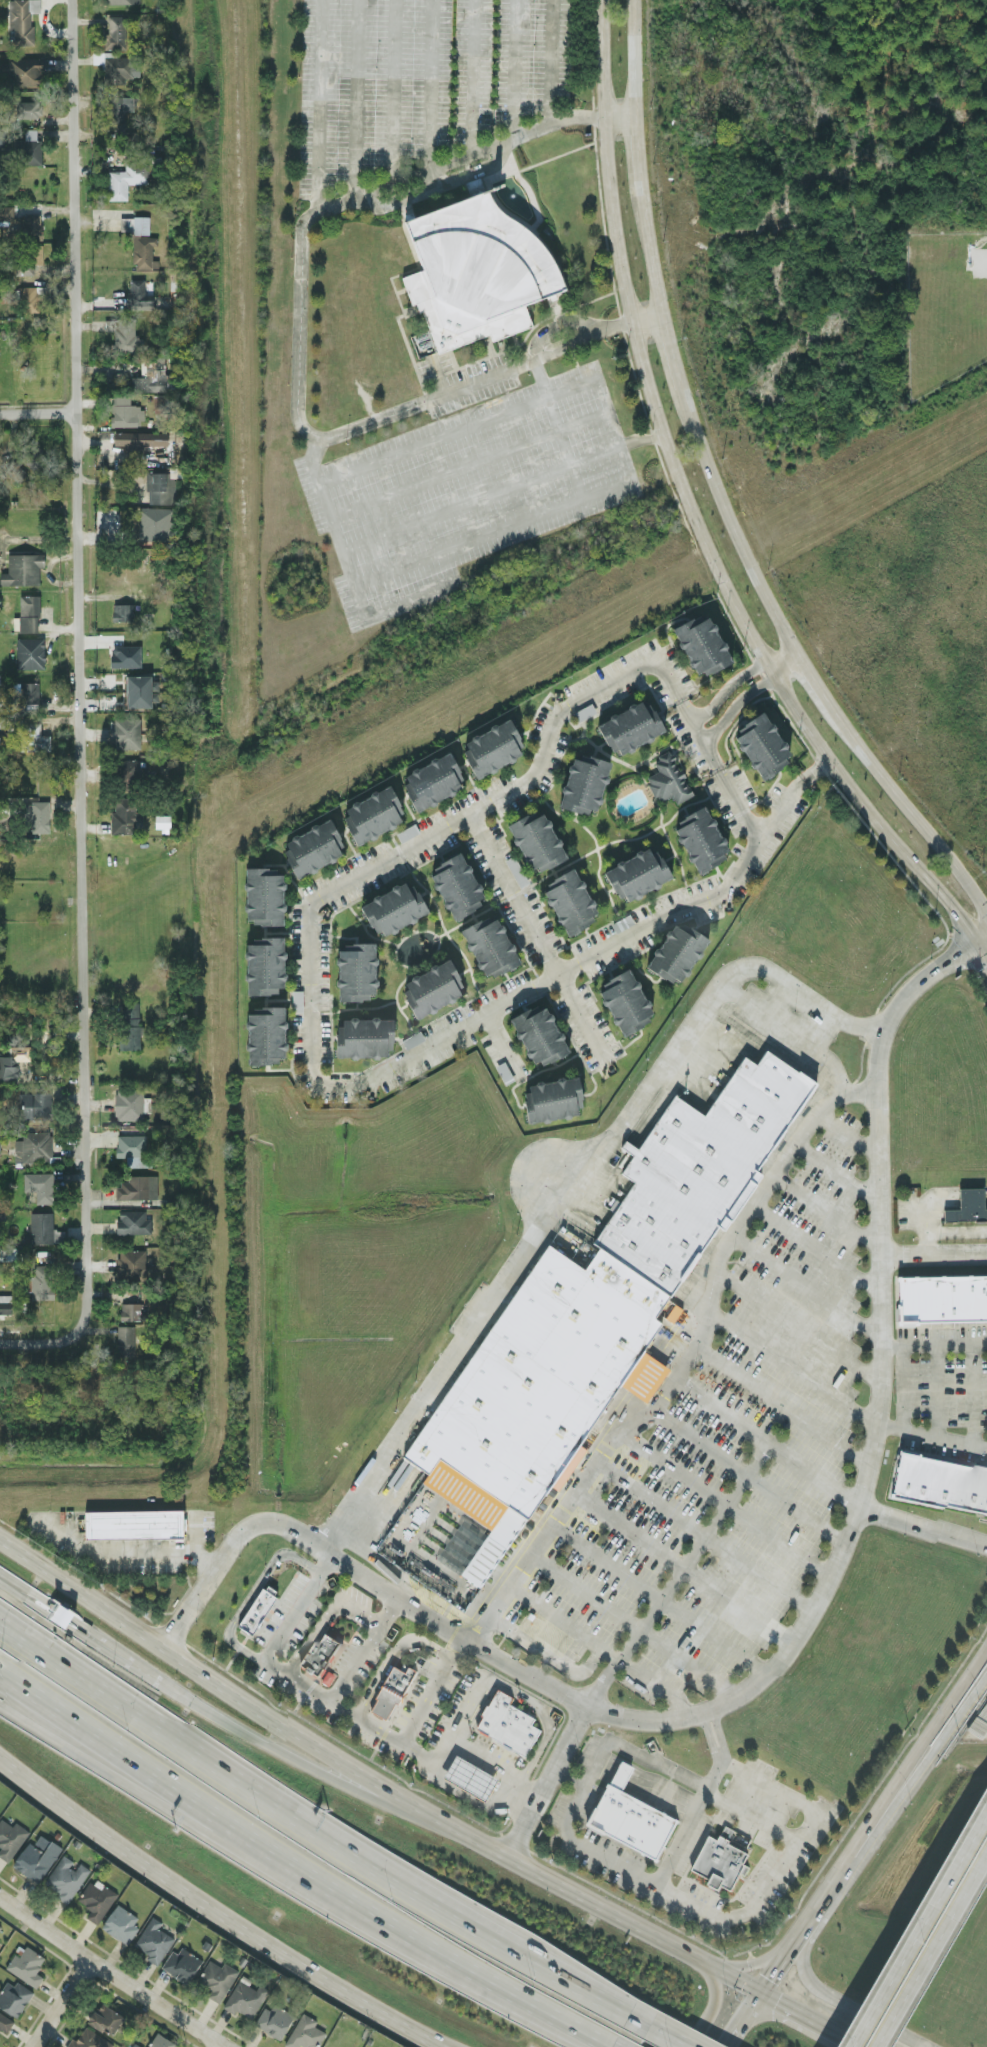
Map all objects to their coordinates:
building: (120, 1)
building: (21, 20)
building: (113, 31)
road: (632, 56)
road: (547, 61)
building: (115, 66)
road: (513, 67)
building: (22, 70)
road: (471, 76)
road: (430, 83)
road: (391, 91)
road: (352, 98)
road: (317, 104)
building: (28, 108)
building: (116, 113)
road: (618, 114)
building: (3, 138)
road: (635, 147)
building: (28, 148)
building: (126, 178)
road: (434, 185)
building: (6, 211)
building: (134, 223)
building: (32, 225)
road: (646, 247)
building: (143, 251)
building: (32, 257)
building: (473, 267)
building: (139, 293)
building: (28, 298)
road: (644, 316)
road: (555, 324)
building: (122, 334)
road: (296, 339)
road: (670, 348)
road: (436, 373)
building: (150, 375)
road: (604, 393)
road: (39, 410)
building: (125, 411)
road: (555, 427)
road: (459, 431)
building: (140, 439)
building: (169, 457)
road: (469, 463)
building: (159, 486)
road: (499, 489)
building: (153, 522)
road: (692, 523)
road: (729, 524)
road: (493, 531)
building: (22, 568)
road: (349, 574)
building: (122, 611)
building: (28, 612)
building: (701, 644)
building: (29, 652)
building: (125, 655)
road: (784, 664)
road: (80, 667)
road: (815, 681)
road: (724, 687)
building: (27, 690)
building: (138, 690)
road: (732, 704)
building: (3, 722)
building: (630, 726)
building: (126, 732)
road: (696, 735)
building: (33, 736)
building: (761, 744)
building: (492, 747)
building: (127, 769)
road: (814, 769)
building: (667, 778)
building: (432, 780)
building: (584, 783)
road: (735, 805)
road: (908, 811)
building: (373, 813)
building: (125, 816)
building: (40, 818)
road: (429, 834)
building: (700, 838)
building: (536, 840)
building: (313, 847)
building: (515, 870)
building: (637, 873)
building: (456, 885)
building: (264, 895)
building: (570, 901)
building: (394, 907)
traffic signals: (958, 912)
road: (979, 934)
road: (536, 940)
building: (489, 945)
building: (676, 951)
road: (591, 954)
building: (265, 965)
building: (356, 971)
building: (432, 987)
building: (625, 1001)
building: (129, 1024)
road: (788, 1032)
building: (538, 1033)
building: (266, 1034)
building: (364, 1036)
building: (412, 1038)
road: (502, 1044)
building: (13, 1061)
building: (553, 1098)
building: (130, 1103)
building: (36, 1104)
road: (843, 1130)
building: (33, 1146)
building: (132, 1148)
building: (693, 1166)
road: (832, 1171)
building: (39, 1185)
building: (137, 1186)
road: (572, 1189)
road: (953, 1196)
building: (967, 1205)
road: (822, 1209)
road: (922, 1217)
building: (132, 1221)
building: (44, 1228)
road: (955, 1231)
road: (923, 1244)
road: (813, 1247)
road: (931, 1255)
building: (131, 1263)
building: (41, 1280)
road: (802, 1286)
building: (942, 1297)
building: (5, 1303)
building: (669, 1309)
building: (132, 1310)
road: (795, 1326)
building: (125, 1340)
road: (38, 1341)
road: (932, 1344)
road: (680, 1361)
road: (788, 1366)
building: (640, 1374)
road: (899, 1385)
road: (935, 1389)
building: (529, 1390)
road: (969, 1393)
road: (778, 1403)
road: (929, 1433)
road: (745, 1476)
road: (819, 1482)
building: (940, 1483)
road: (723, 1504)
building: (127, 1522)
road: (192, 1529)
road: (702, 1534)
road: (125, 1551)
road: (681, 1566)
road: (675, 1576)
road: (658, 1597)
road: (243, 1601)
road: (296, 1605)
building: (252, 1608)
building: (61, 1614)
toll booth: (63, 1614)
road: (324, 1615)
road: (631, 1625)
road: (83, 1627)
road: (599, 1645)
road: (786, 1647)
road: (361, 1649)
building: (318, 1654)
road: (389, 1656)
road: (547, 1657)
building: (391, 1693)
road: (248, 1703)
road: (545, 1716)
road: (938, 1720)
building: (510, 1726)
road: (942, 1738)
road: (395, 1743)
road: (450, 1745)
road: (558, 1757)
road: (314, 1769)
road: (568, 1777)
building: (473, 1780)
road: (645, 1788)
road: (139, 1791)
road: (526, 1795)
road: (464, 1797)
road: (700, 1801)
building: (633, 1819)
road: (751, 1819)
road: (519, 1832)
road: (319, 1835)
building: (11, 1841)
building: (38, 1860)
building: (723, 1862)
road: (299, 1868)
building: (67, 1881)
road: (176, 1891)
road: (662, 1892)
road: (823, 1894)
building: (98, 1902)
road: (632, 1925)
building: (122, 1926)
building: (1, 1929)
road: (921, 1931)
building: (155, 1943)
road: (934, 1955)
road: (760, 1962)
building: (183, 1967)
building: (28, 1968)
road: (108, 1976)
building: (218, 1981)
road: (817, 1991)
traffic signals: (759, 1994)
building: (246, 1999)
building: (15, 2000)
road: (713, 2001)
road: (57, 2004)
road: (750, 2007)
road: (808, 2020)
building: (108, 2021)
building: (276, 2022)
building: (5, 2025)
road: (397, 2027)
road: (732, 2033)
building: (307, 2034)
road: (670, 2037)
building: (91, 2041)
building: (162, 2042)

